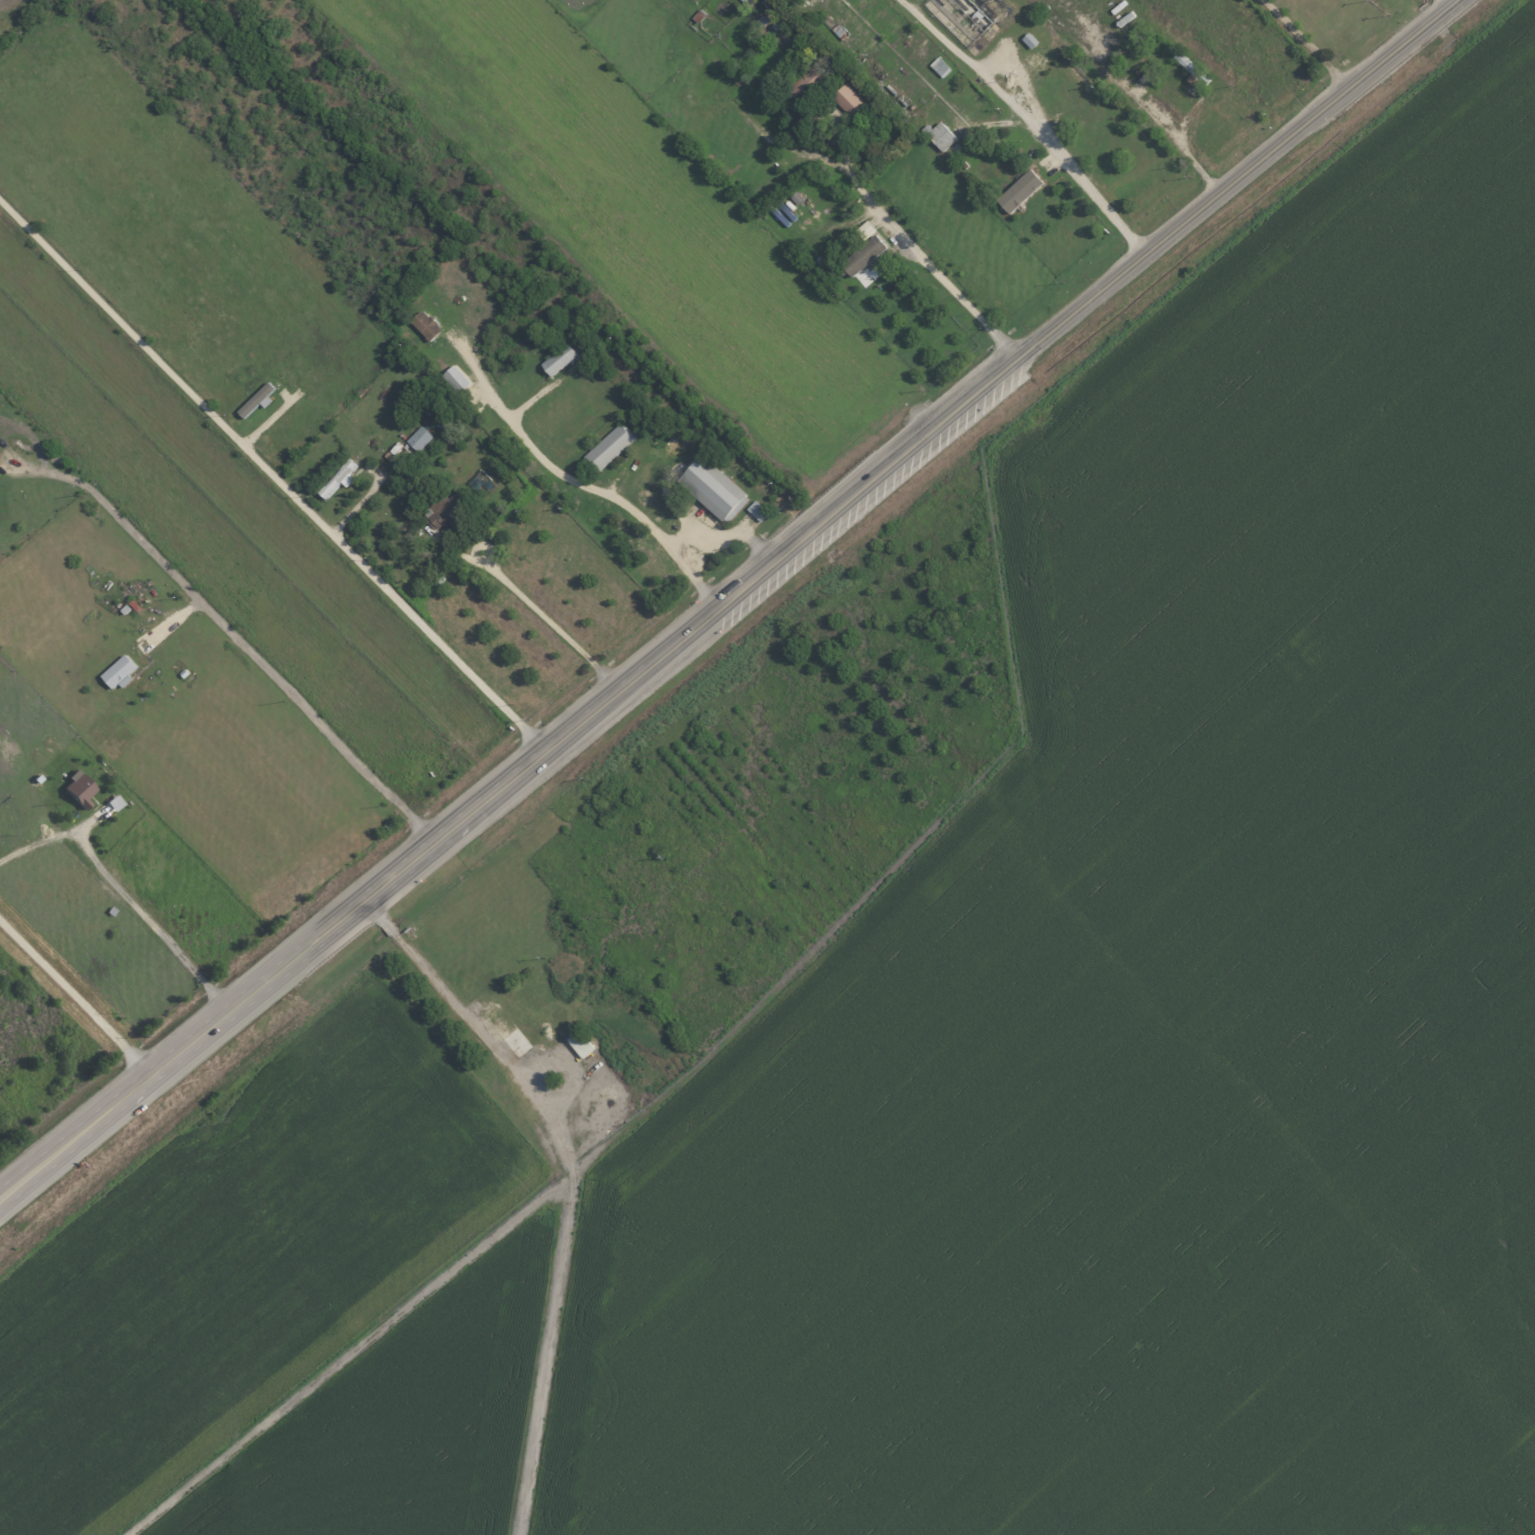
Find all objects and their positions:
building: (748, 1)
road: (1449, 2)
building: (1033, 40)
road: (1305, 42)
building: (943, 66)
building: (1193, 66)
building: (808, 84)
building: (853, 101)
road: (1030, 123)
building: (943, 135)
building: (1023, 191)
building: (868, 229)
road: (912, 243)
building: (866, 260)
road: (139, 322)
building: (429, 324)
road: (1054, 330)
building: (562, 358)
building: (459, 378)
building: (261, 400)
building: (432, 403)
building: (423, 438)
building: (612, 447)
building: (343, 477)
road: (574, 484)
building: (716, 487)
building: (758, 508)
road: (724, 534)
road: (411, 611)
road: (546, 622)
road: (235, 636)
building: (122, 672)
building: (80, 789)
road: (427, 843)
road: (121, 890)
airport: (1100, 989)
road: (75, 995)
building: (583, 1043)
road: (102, 1110)
road: (570, 1180)

